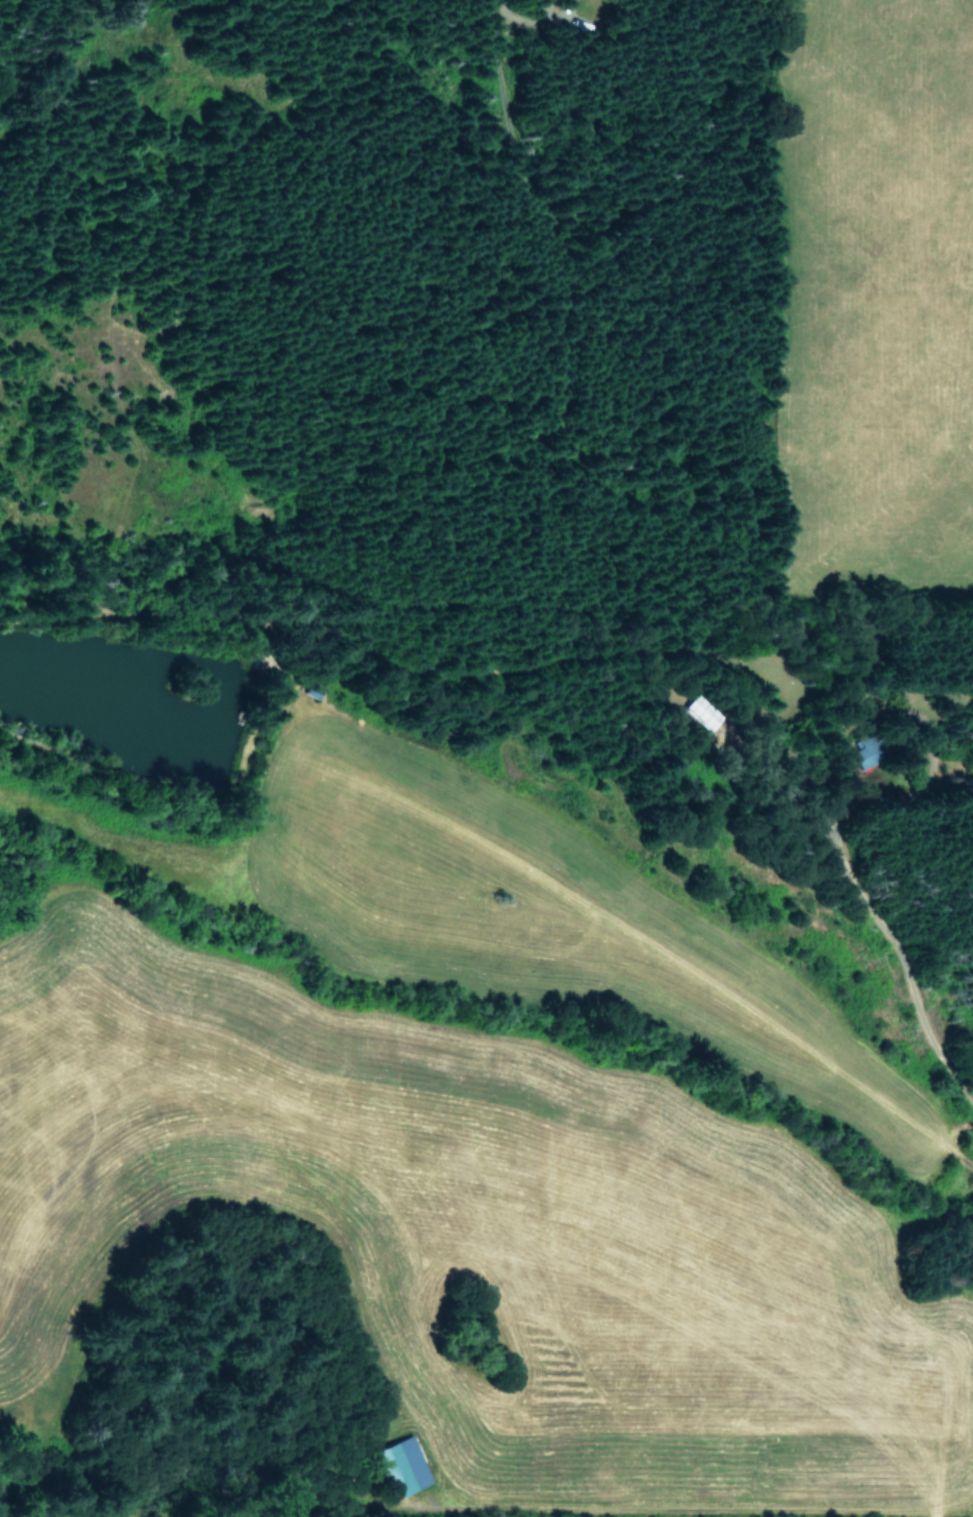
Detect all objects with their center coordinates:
building: (864, 752)
road: (898, 959)
crop: (459, 1137)
building: (403, 1465)
crop: (11, 1514)

